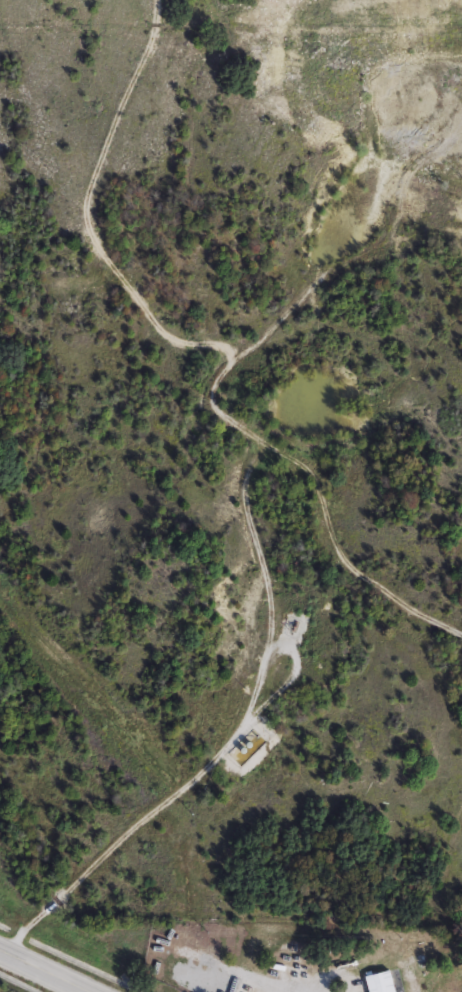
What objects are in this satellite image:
road: (199, 767)
road: (43, 971)
building: (384, 982)

